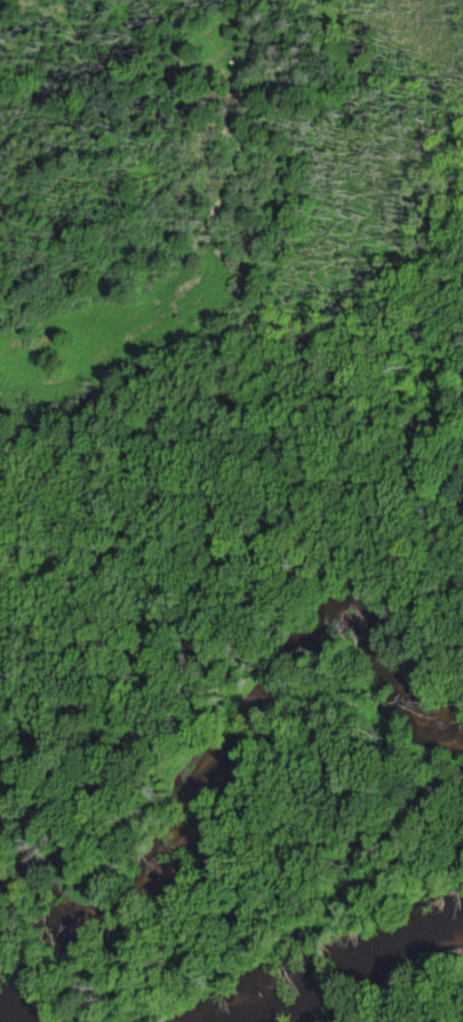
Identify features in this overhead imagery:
river: (331, 959)
river: (10, 1013)

